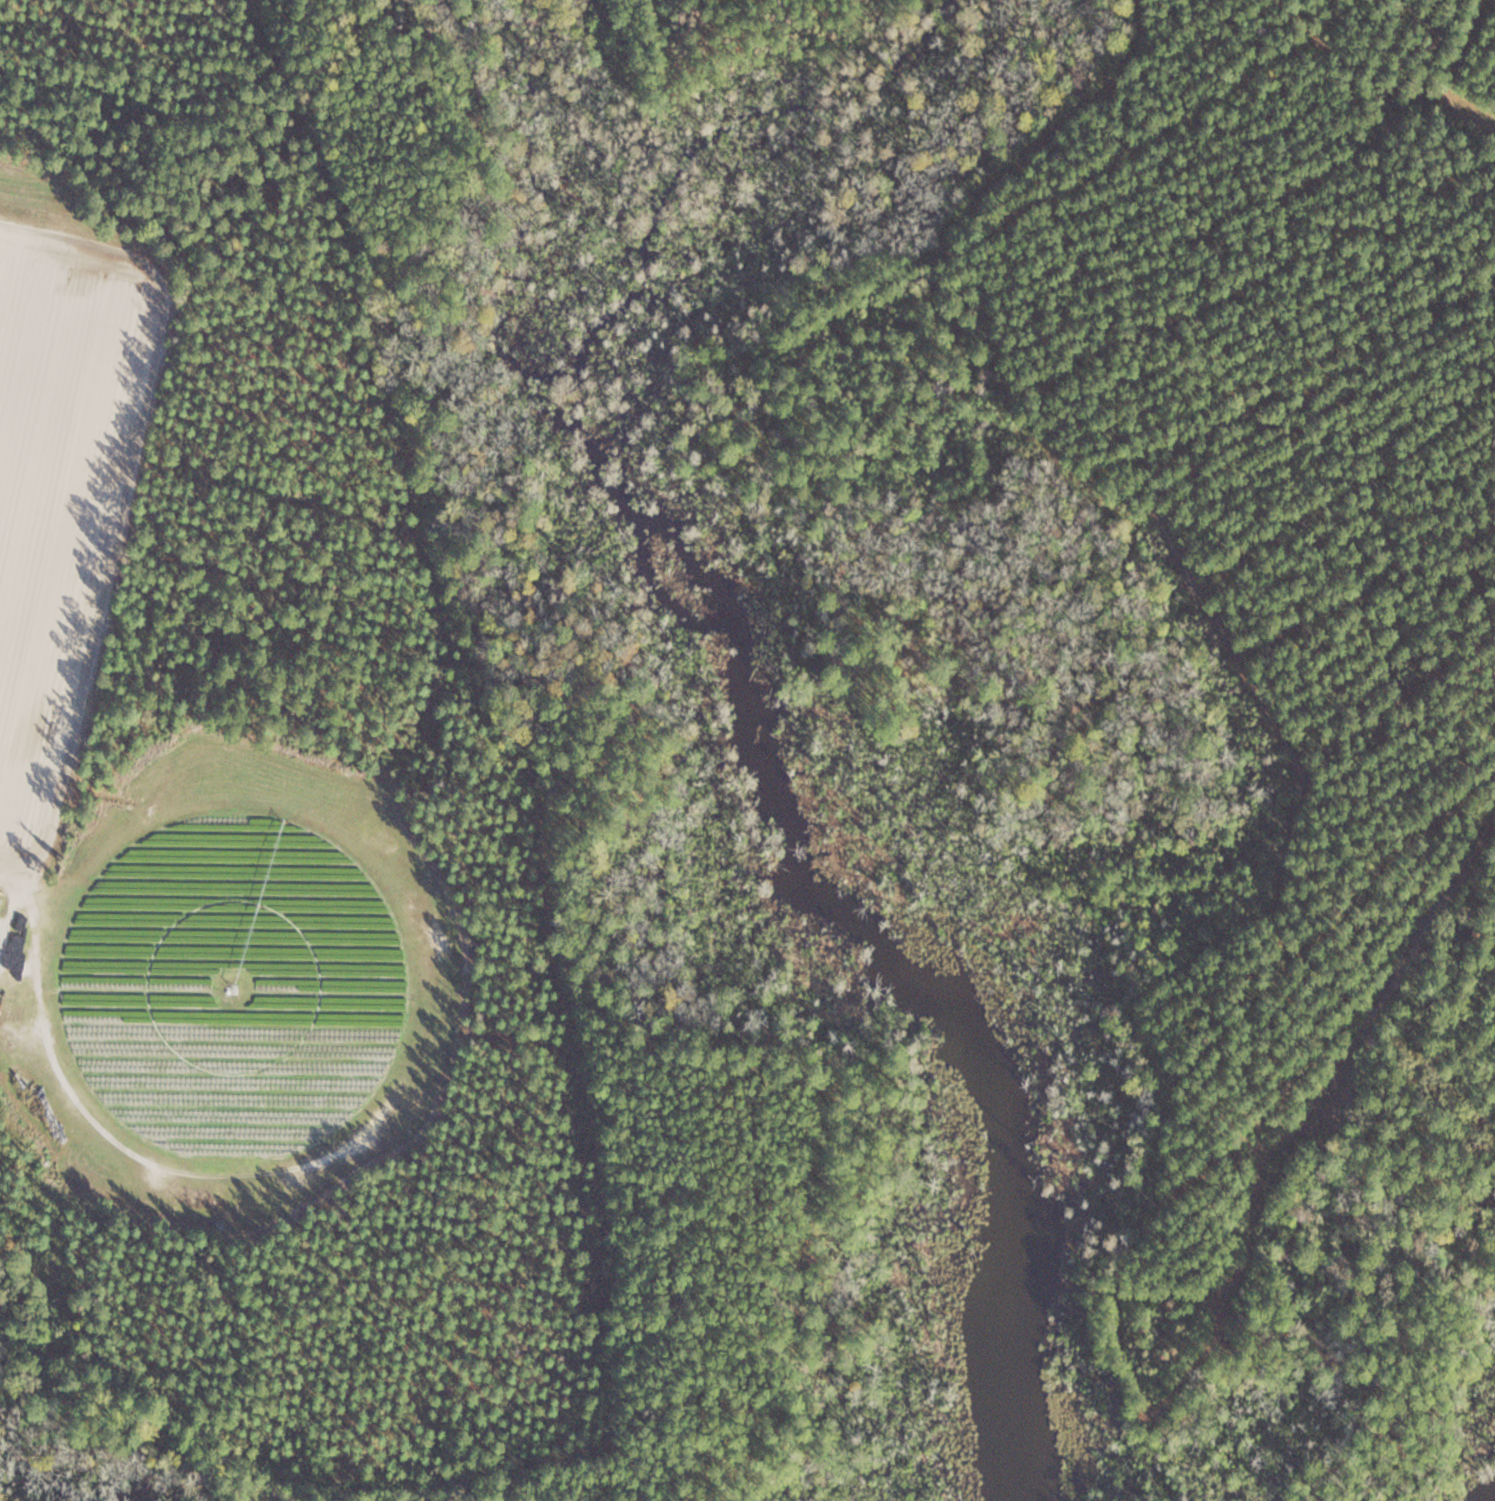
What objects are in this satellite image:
road: (14, 878)
building: (0, 918)
road: (1271, 1143)

